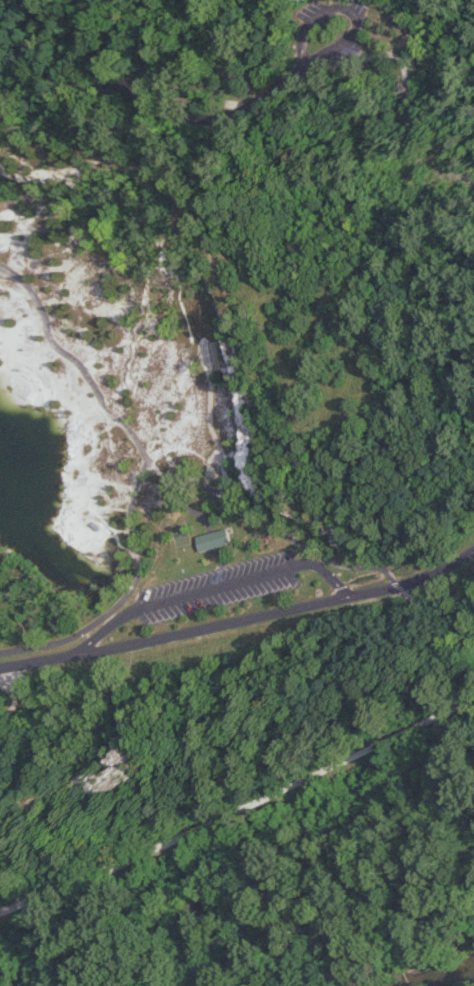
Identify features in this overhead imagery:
road: (341, 6)
parking lot: (325, 45)
road: (423, 68)
road: (451, 80)
road: (161, 107)
road: (59, 389)
park: (226, 397)
road: (181, 421)
building: (188, 472)
road: (239, 521)
building: (184, 538)
road: (103, 584)
parking lot: (194, 586)
road: (189, 588)
road: (461, 598)
road: (240, 619)
road: (75, 624)
park: (437, 749)
road: (238, 808)

